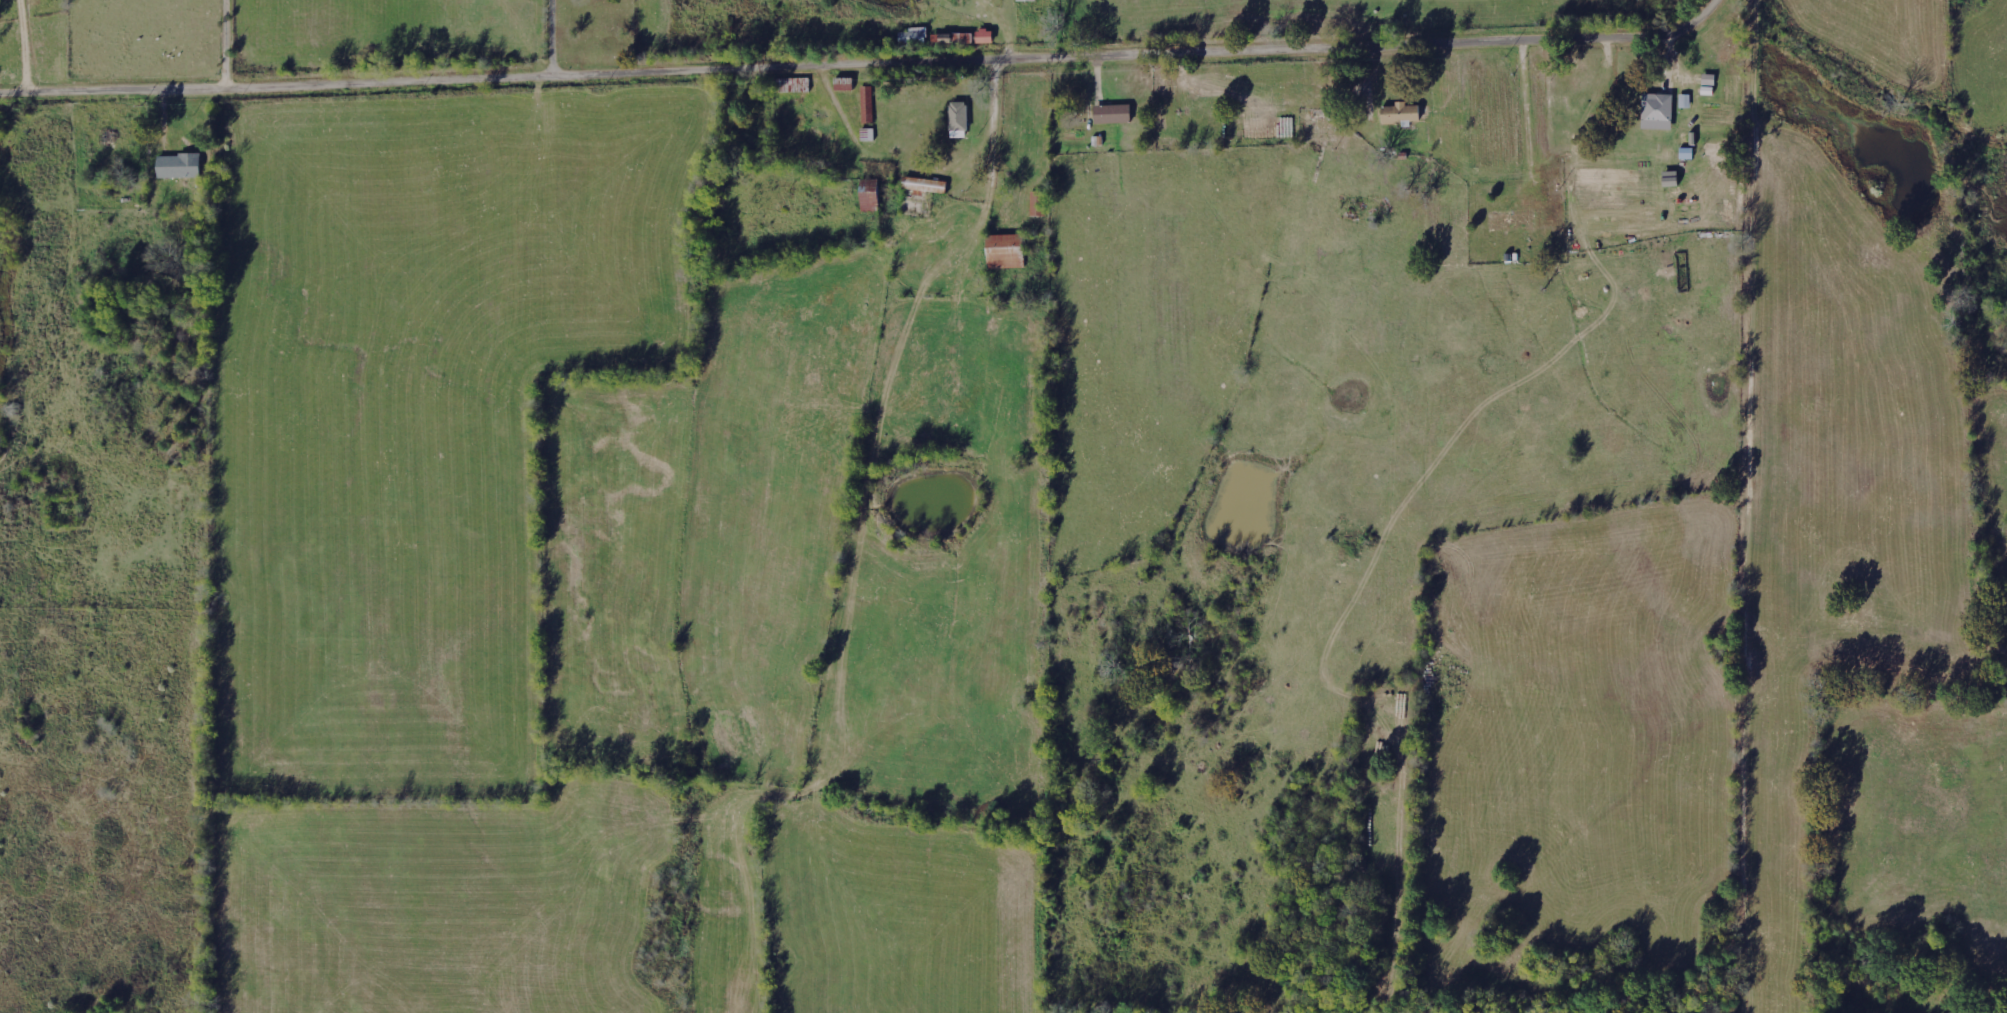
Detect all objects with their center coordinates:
building: (984, 36)
building: (954, 38)
road: (230, 46)
road: (869, 65)
building: (868, 103)
building: (1657, 111)
building: (1399, 113)
building: (1111, 114)
building: (958, 119)
building: (183, 165)
building: (924, 184)
building: (870, 195)
building: (1037, 203)
building: (1004, 251)

